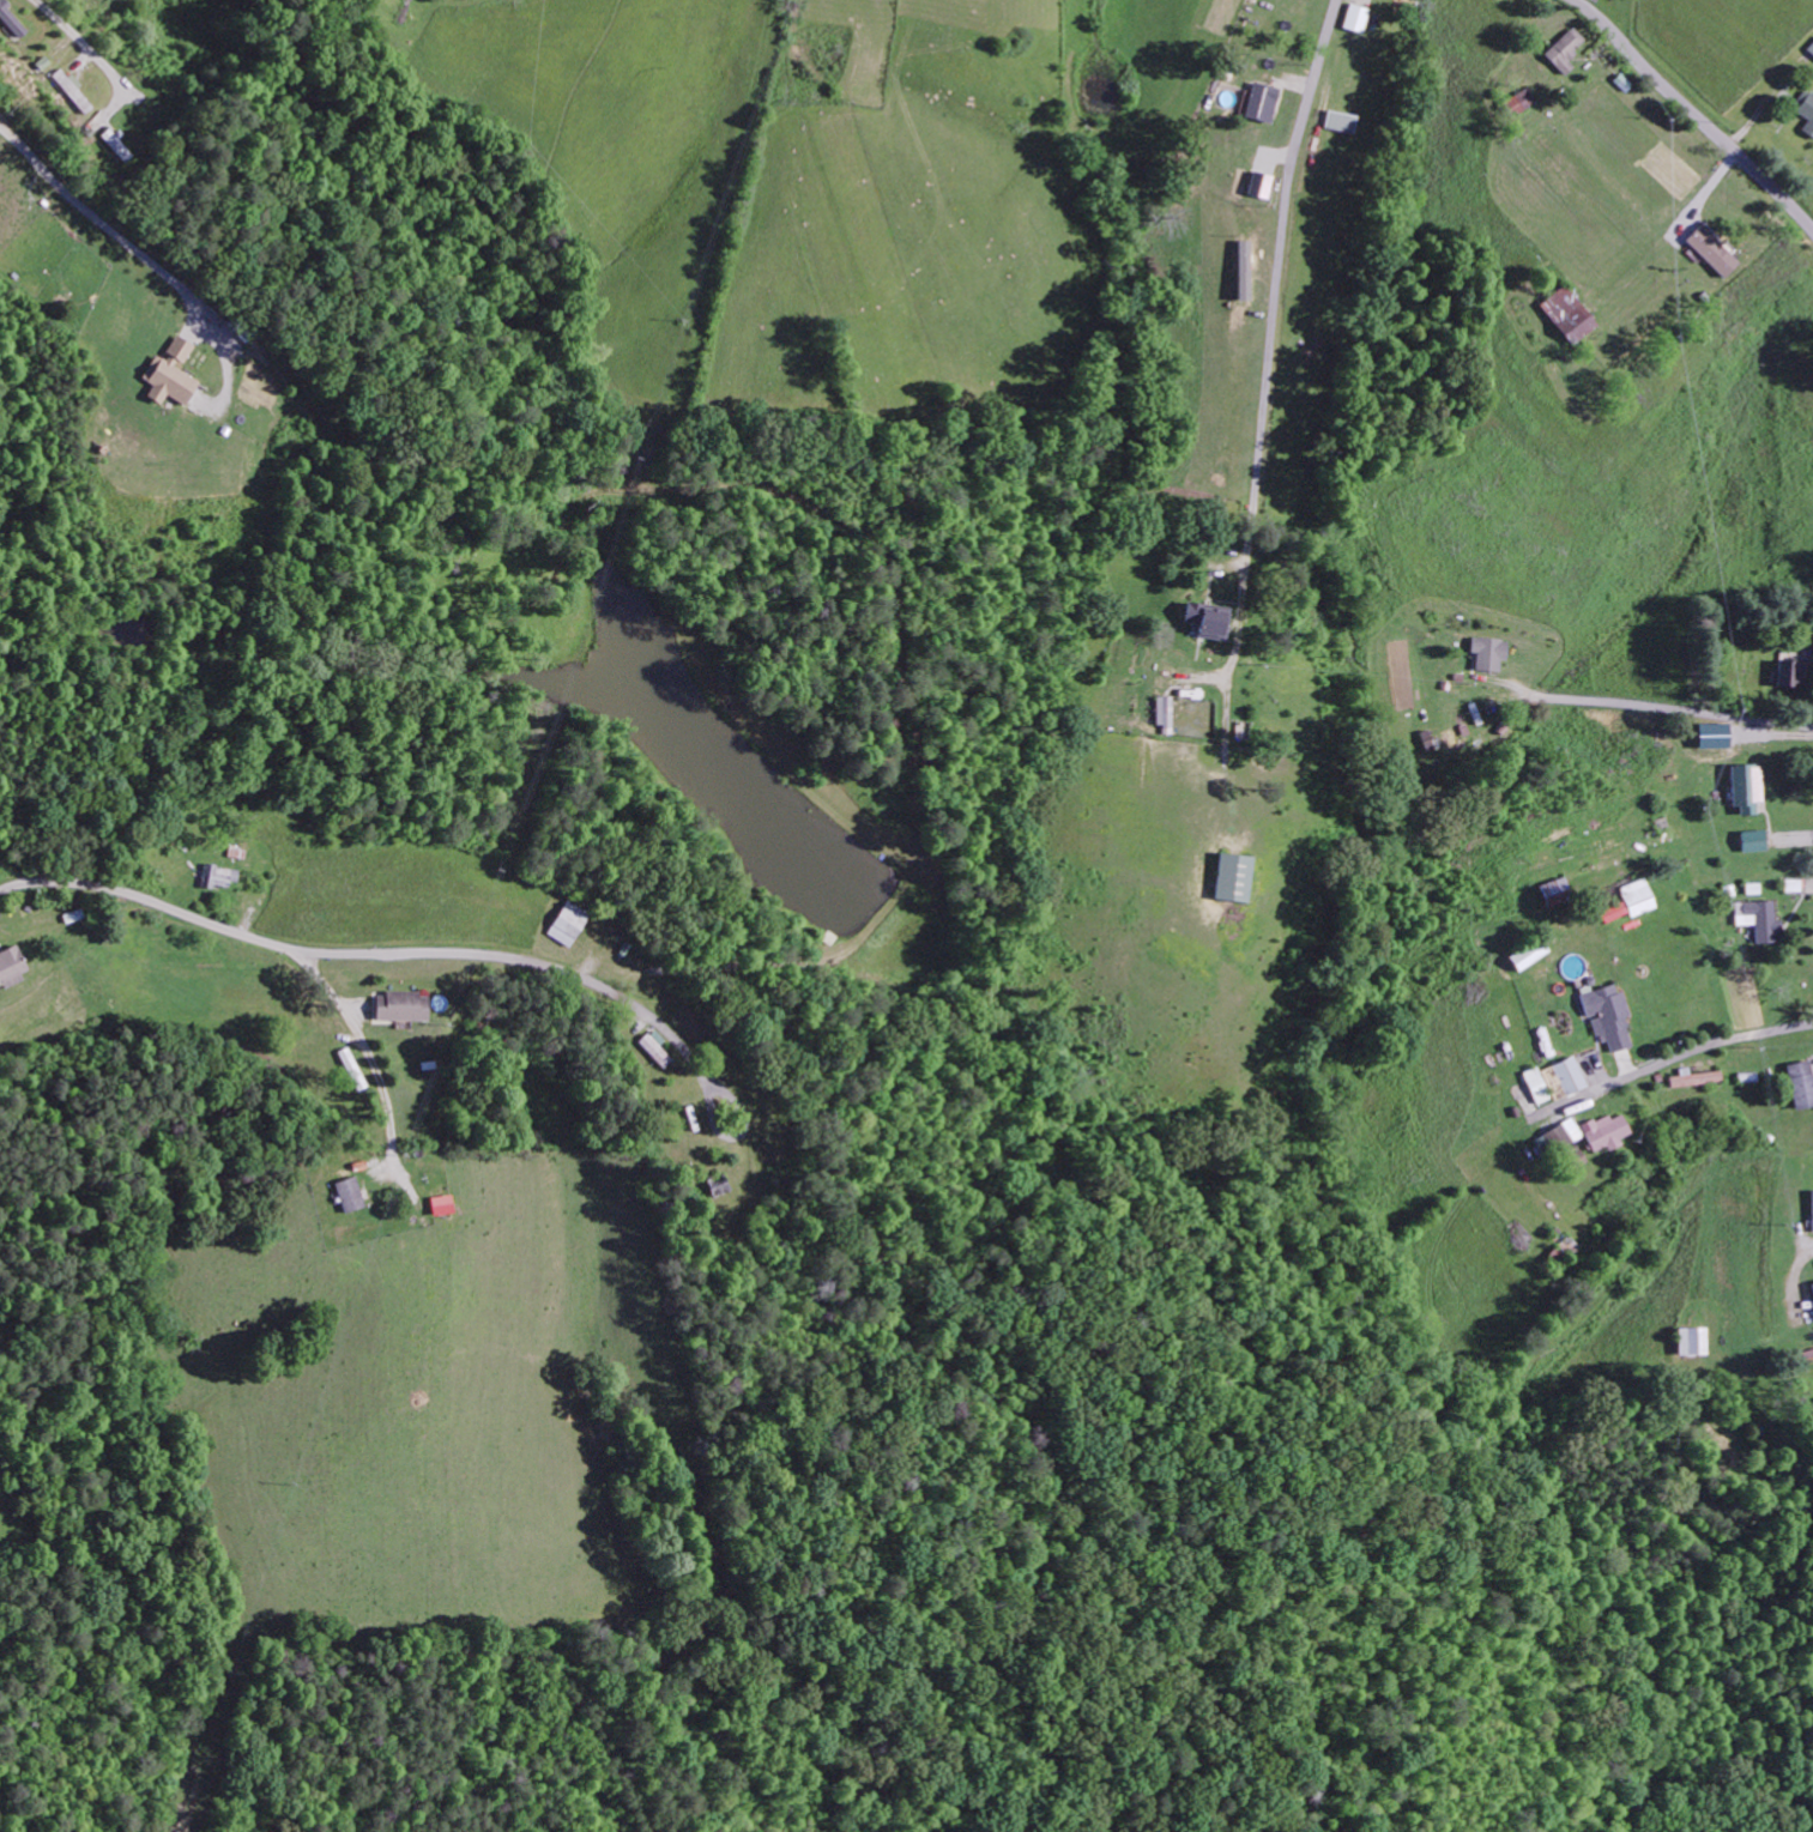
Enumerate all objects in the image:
building: (1354, 17)
building: (11, 20)
building: (1809, 48)
building: (1566, 49)
building: (72, 90)
building: (1521, 101)
building: (1805, 110)
road: (1694, 115)
building: (1338, 121)
building: (1261, 185)
building: (1711, 252)
building: (1567, 314)
road: (1274, 321)
building: (169, 373)
building: (1208, 618)
building: (1487, 651)
building: (1789, 671)
building: (1166, 714)
building: (1746, 786)
building: (1754, 840)
building: (217, 875)
building: (1232, 876)
building: (1638, 896)
building: (1613, 911)
building: (1759, 918)
building: (566, 923)
road: (362, 953)
building: (1527, 953)
building: (11, 965)
building: (400, 1005)
building: (1606, 1015)
road: (1691, 1044)
building: (654, 1046)
building: (351, 1068)
building: (1561, 1077)
building: (1693, 1077)
building: (1801, 1082)
building: (1535, 1084)
road: (711, 1102)
building: (1602, 1131)
building: (1560, 1135)
building: (718, 1184)
building: (349, 1193)
building: (441, 1204)
building: (1812, 1211)
building: (1812, 1282)
building: (1691, 1340)

